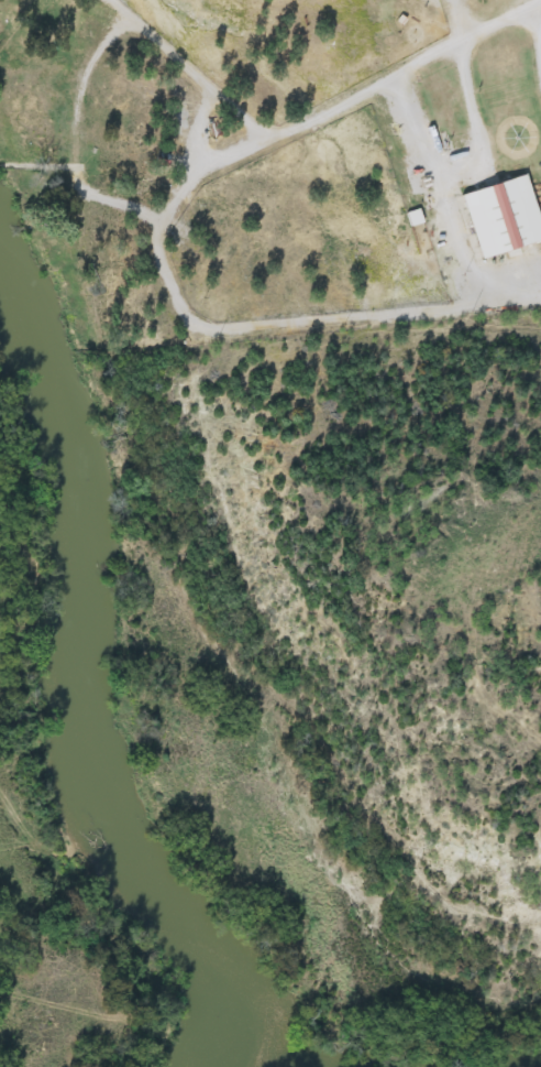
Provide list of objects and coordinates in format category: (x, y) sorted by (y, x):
building: (503, 217)
building: (415, 218)

